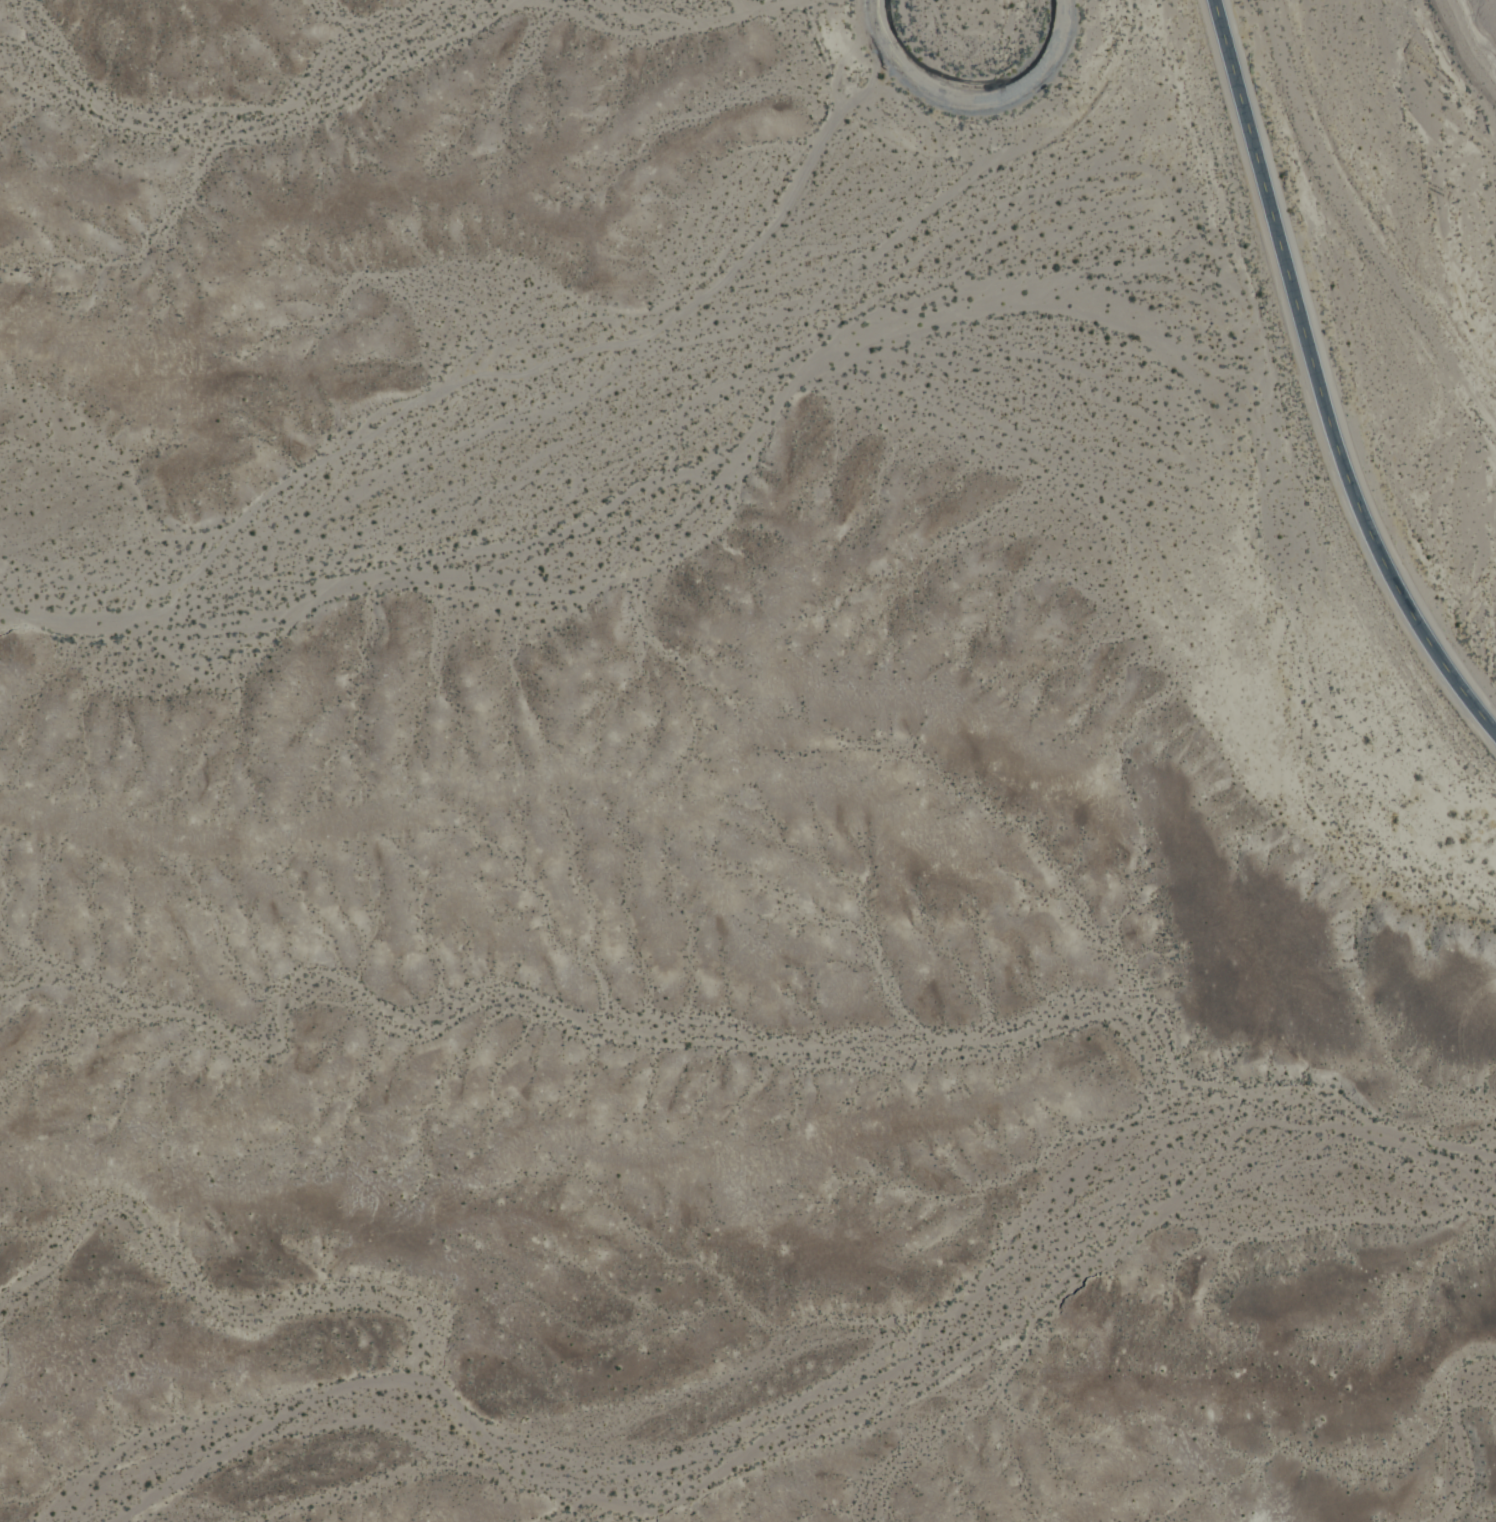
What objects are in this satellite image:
quarry: (980, 74)
road: (1322, 377)

